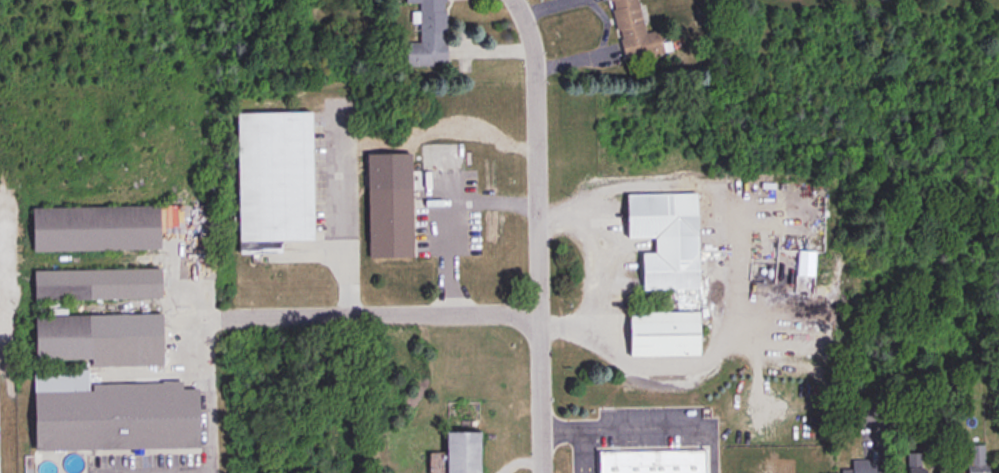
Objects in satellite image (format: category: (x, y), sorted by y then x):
building: (633, 30)
building: (428, 36)
building: (271, 180)
road: (344, 212)
road: (448, 212)
building: (388, 222)
building: (92, 228)
road: (537, 234)
building: (664, 238)
building: (94, 284)
road: (372, 313)
building: (662, 334)
building: (97, 339)
road: (208, 395)
building: (108, 413)
road: (578, 435)
building: (460, 452)
building: (971, 458)
building: (649, 461)
building: (914, 463)
building: (751, 466)
building: (861, 466)

